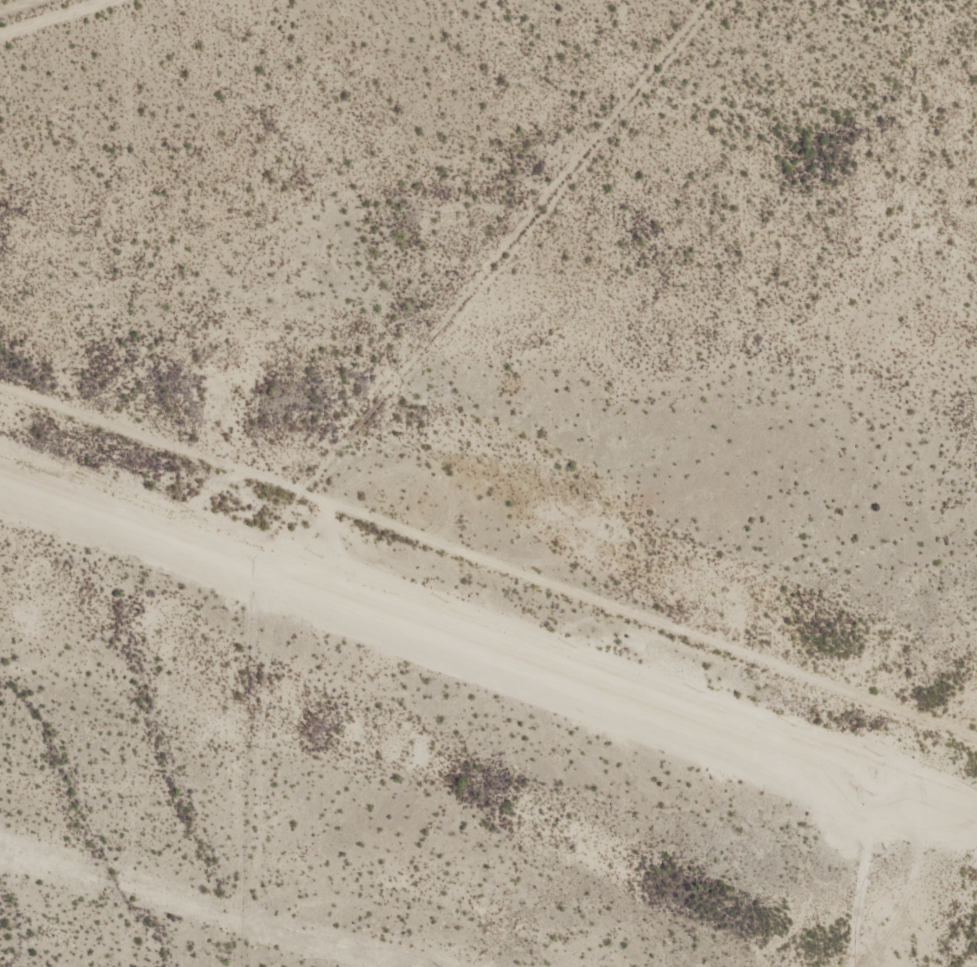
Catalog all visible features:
road: (36, 10)

